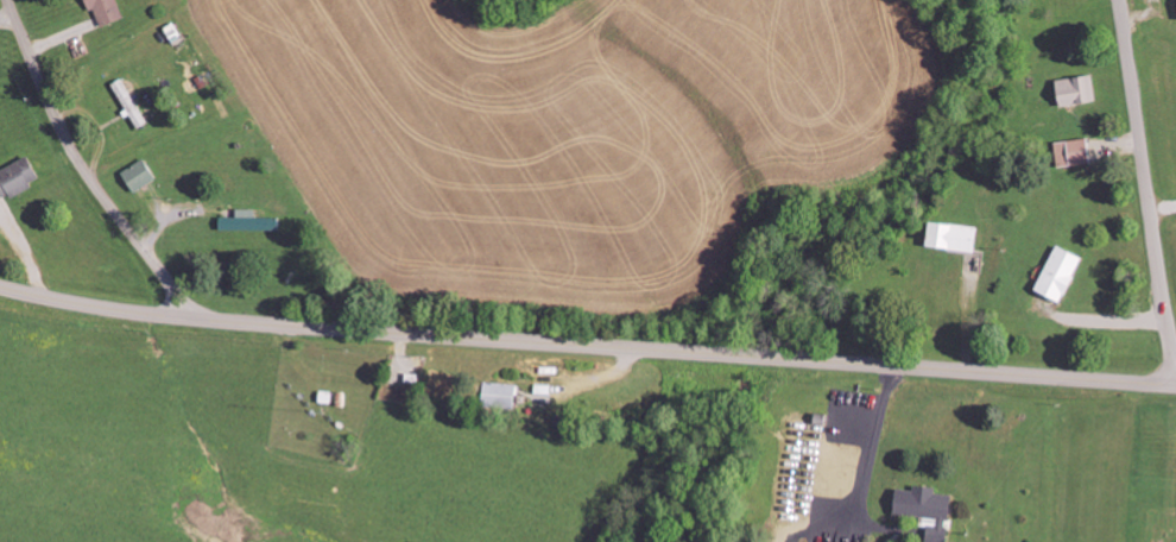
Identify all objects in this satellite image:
building: (105, 11)
building: (1075, 90)
building: (128, 102)
building: (1074, 151)
road: (81, 166)
building: (139, 174)
building: (18, 175)
road: (1146, 178)
building: (247, 220)
building: (7, 222)
building: (953, 235)
building: (1061, 272)
road: (586, 347)
building: (499, 393)
building: (927, 509)

